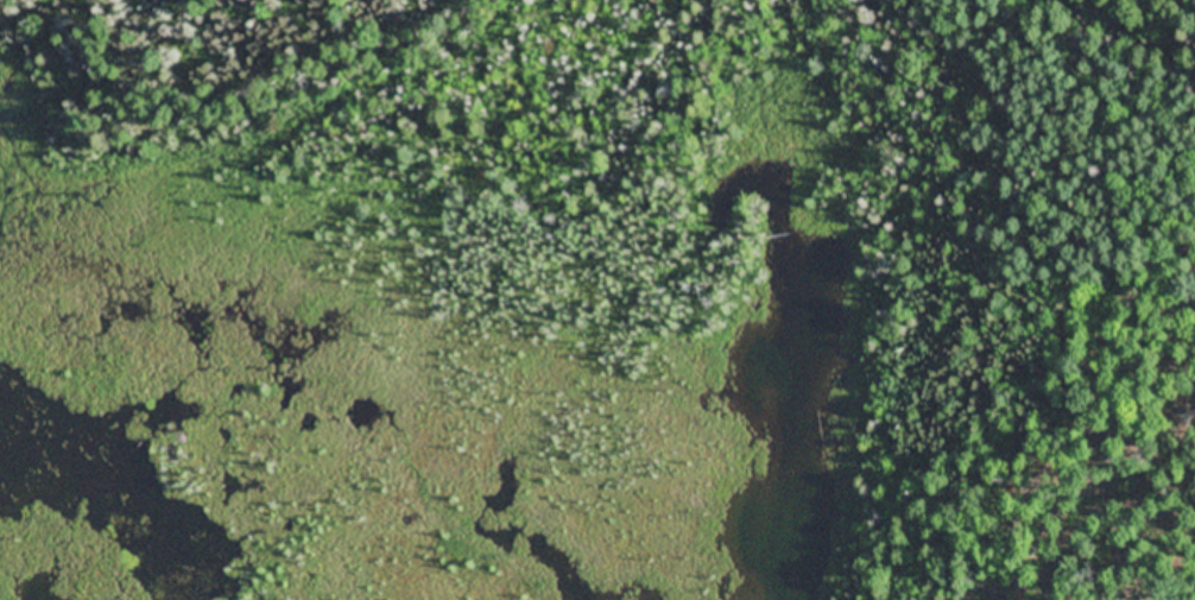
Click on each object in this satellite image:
road: (1180, 574)

